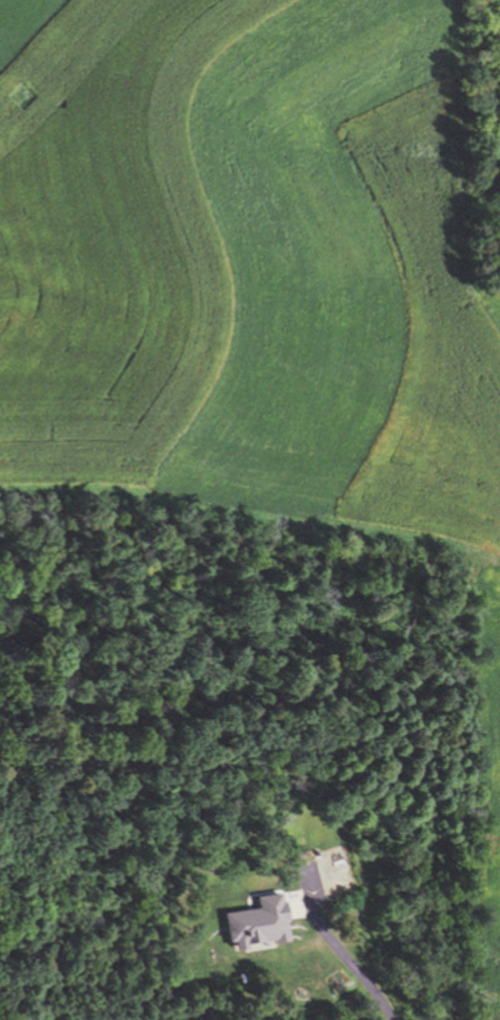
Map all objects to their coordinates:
road: (341, 957)

